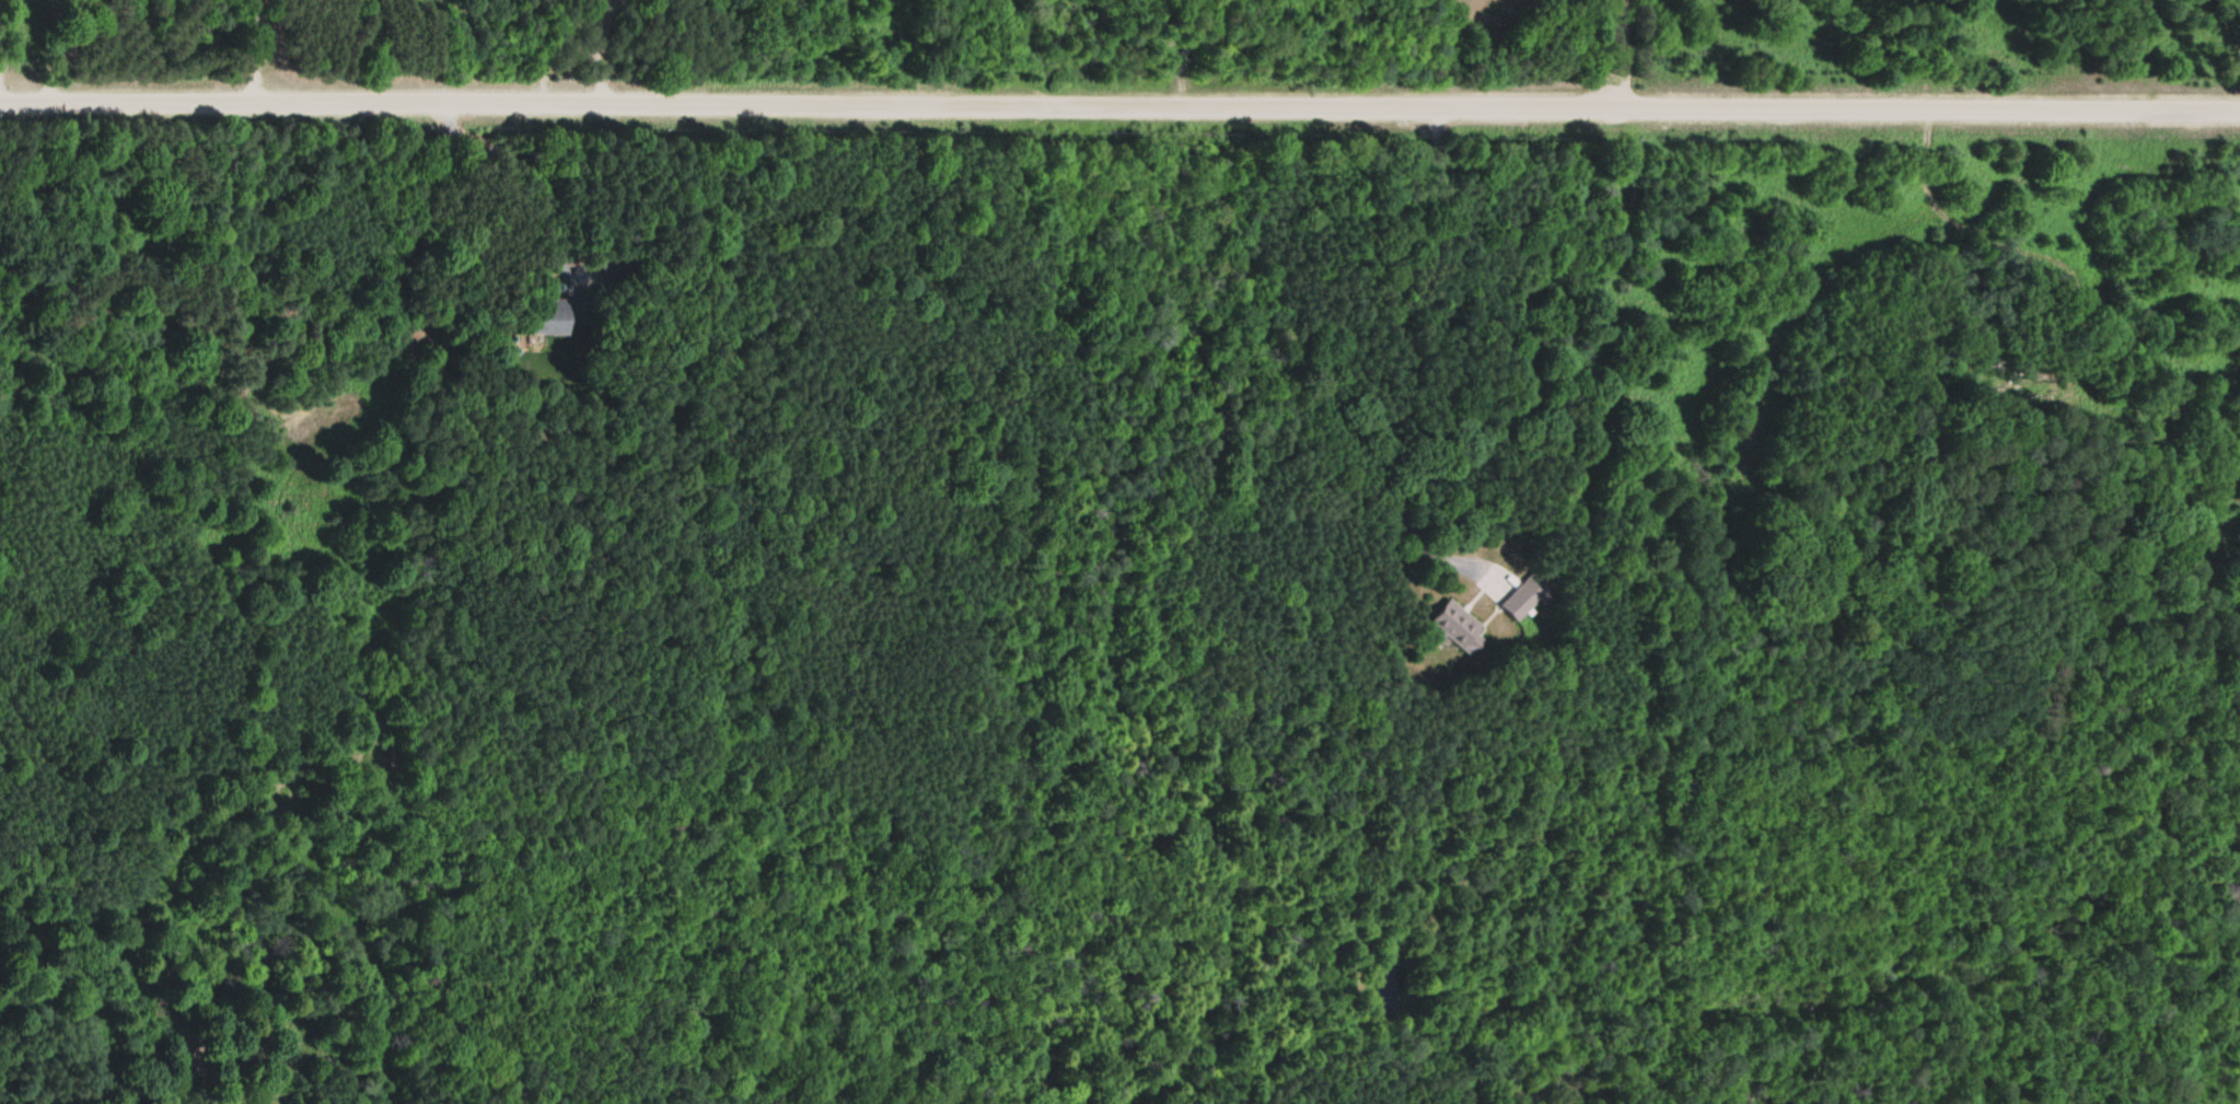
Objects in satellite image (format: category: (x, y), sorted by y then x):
road: (1620, 51)
road: (1119, 107)
road: (1403, 367)
building: (1520, 596)
building: (1454, 627)

